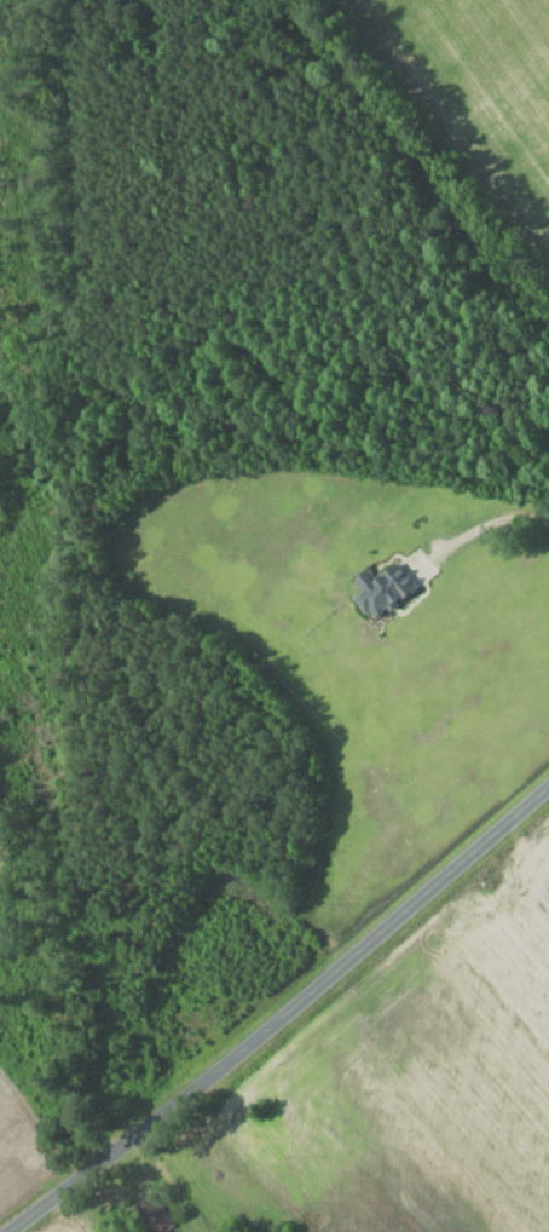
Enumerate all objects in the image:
road: (283, 1015)
building: (152, 1215)

